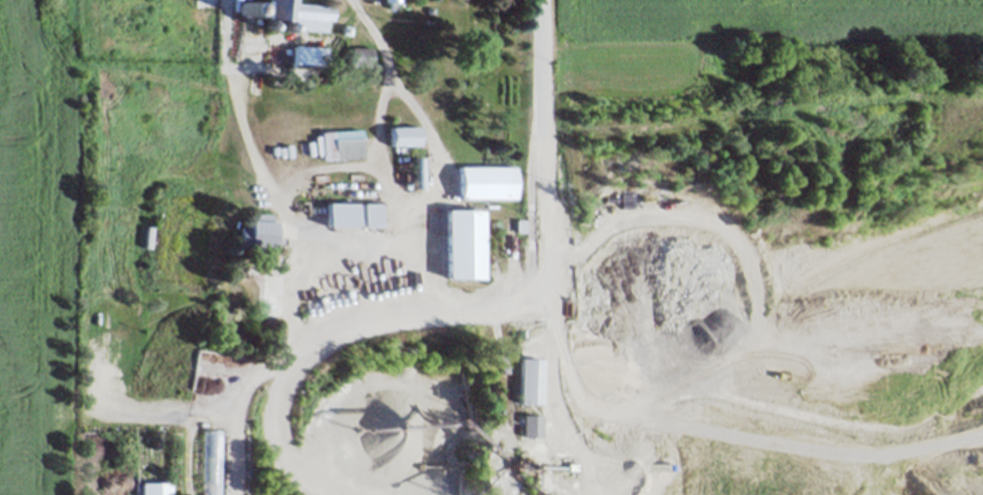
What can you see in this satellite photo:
building: (390, 4)
building: (297, 14)
building: (345, 29)
crop: (774, 34)
building: (308, 56)
building: (361, 57)
building: (403, 135)
road: (244, 137)
building: (341, 144)
road: (543, 148)
building: (414, 172)
building: (486, 182)
road: (283, 194)
road: (428, 199)
building: (338, 212)
building: (519, 226)
building: (258, 232)
building: (461, 243)
quarry: (643, 302)
road: (288, 362)
road: (551, 362)
building: (530, 381)
building: (531, 424)
building: (568, 446)
building: (211, 462)
building: (155, 488)

